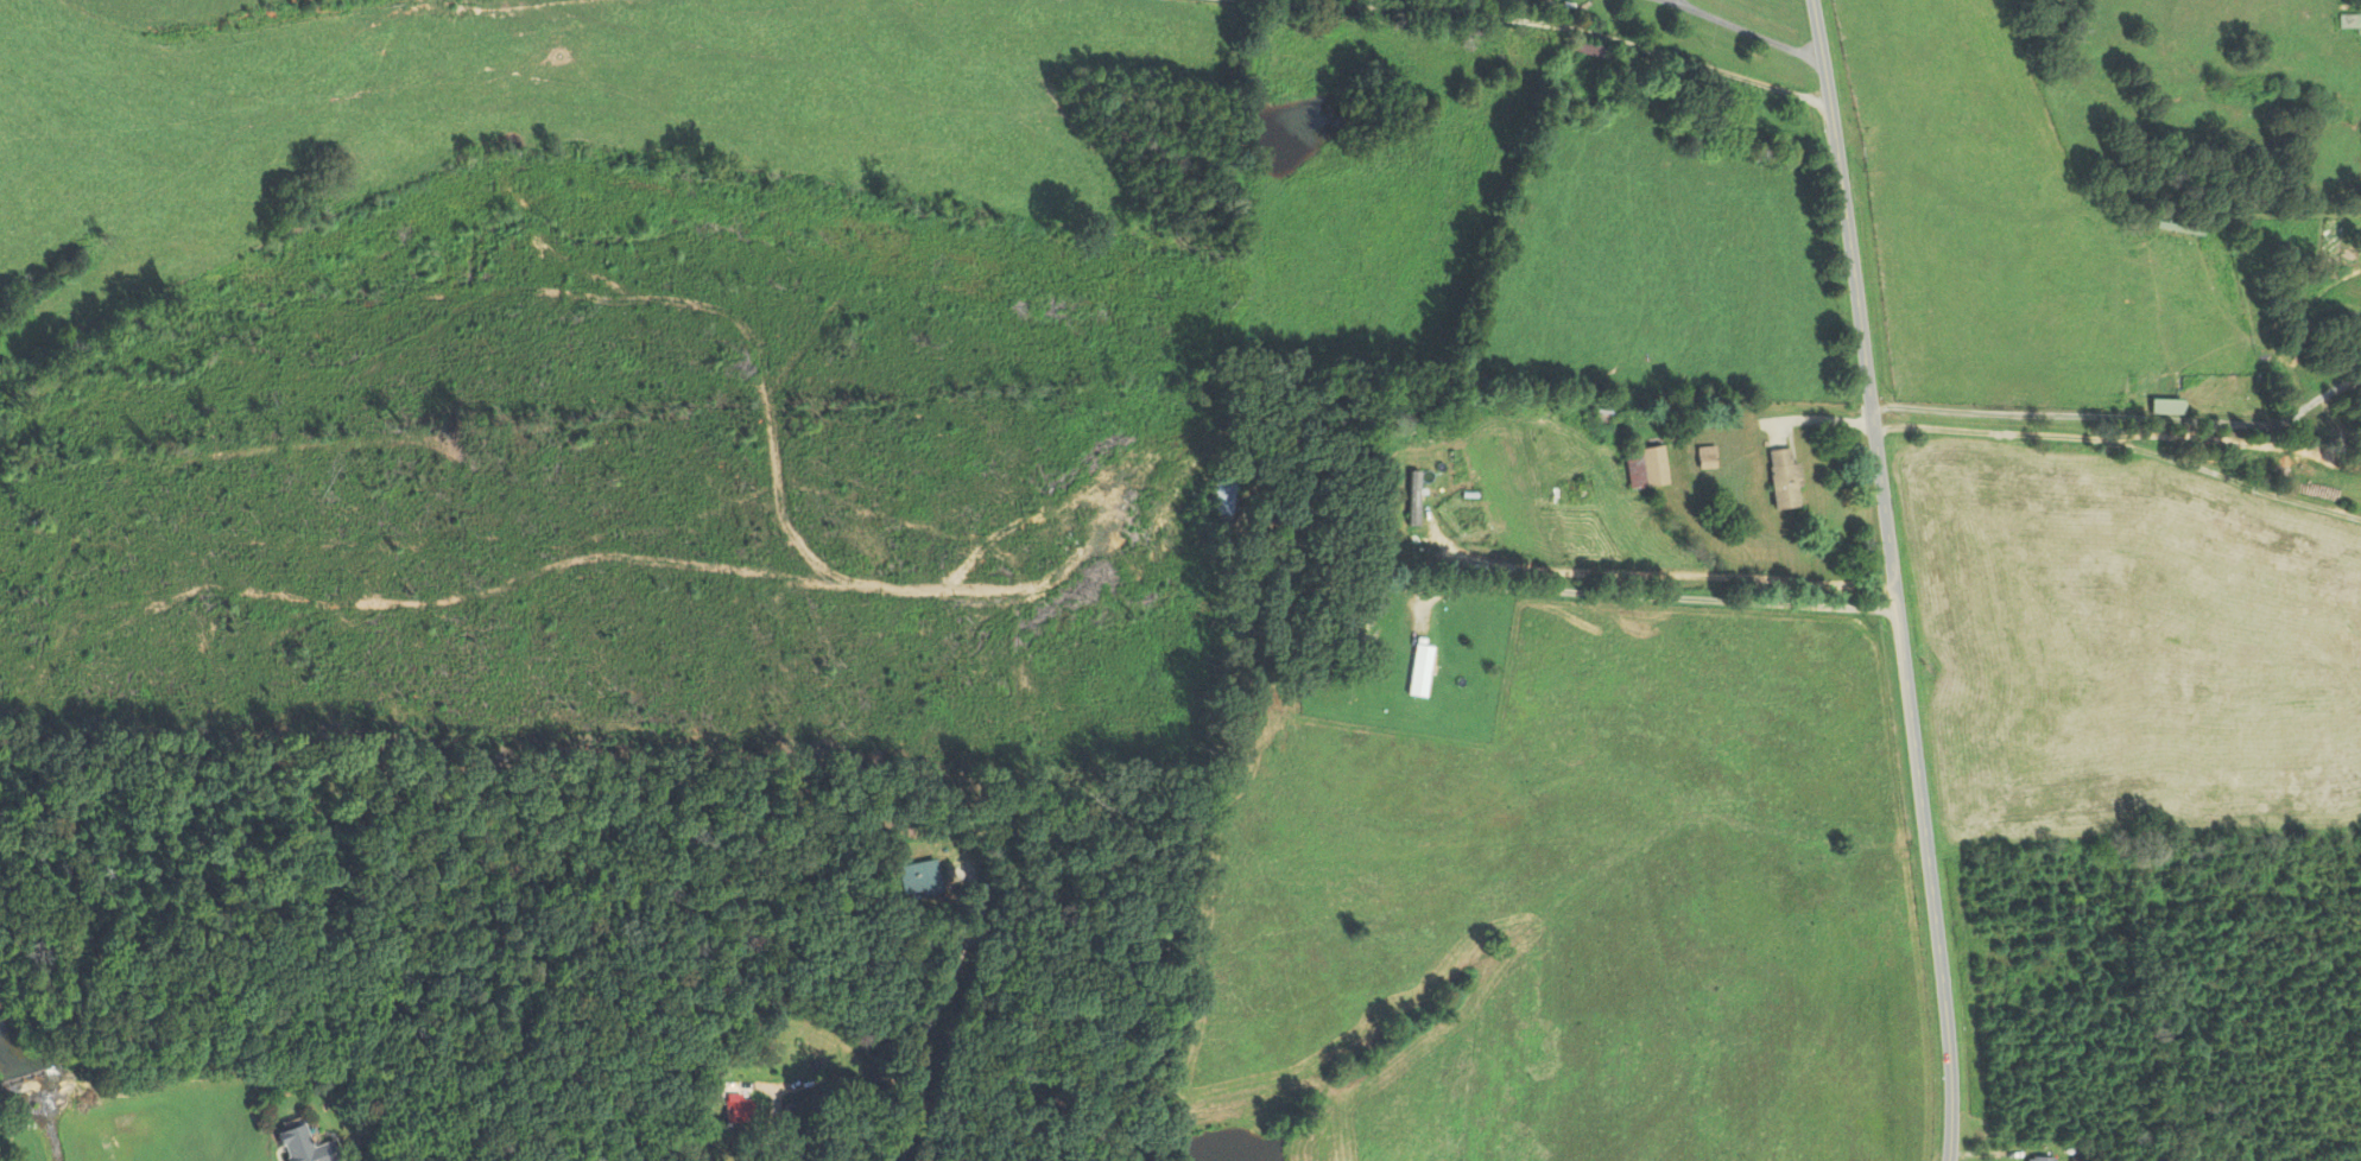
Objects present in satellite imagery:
road: (1673, 2)
road: (1680, 2)
building: (2342, 20)
road: (1582, 26)
road: (1753, 32)
building: (1585, 50)
road: (2323, 394)
building: (2164, 406)
road: (2080, 415)
road: (2121, 450)
building: (1646, 468)
building: (1785, 481)
building: (1223, 496)
road: (1893, 578)
road: (1670, 580)
building: (1419, 671)
road: (1000, 851)
building: (918, 878)
building: (738, 1109)
building: (793, 1109)
building: (305, 1147)
road: (2005, 1148)
building: (2038, 1159)

